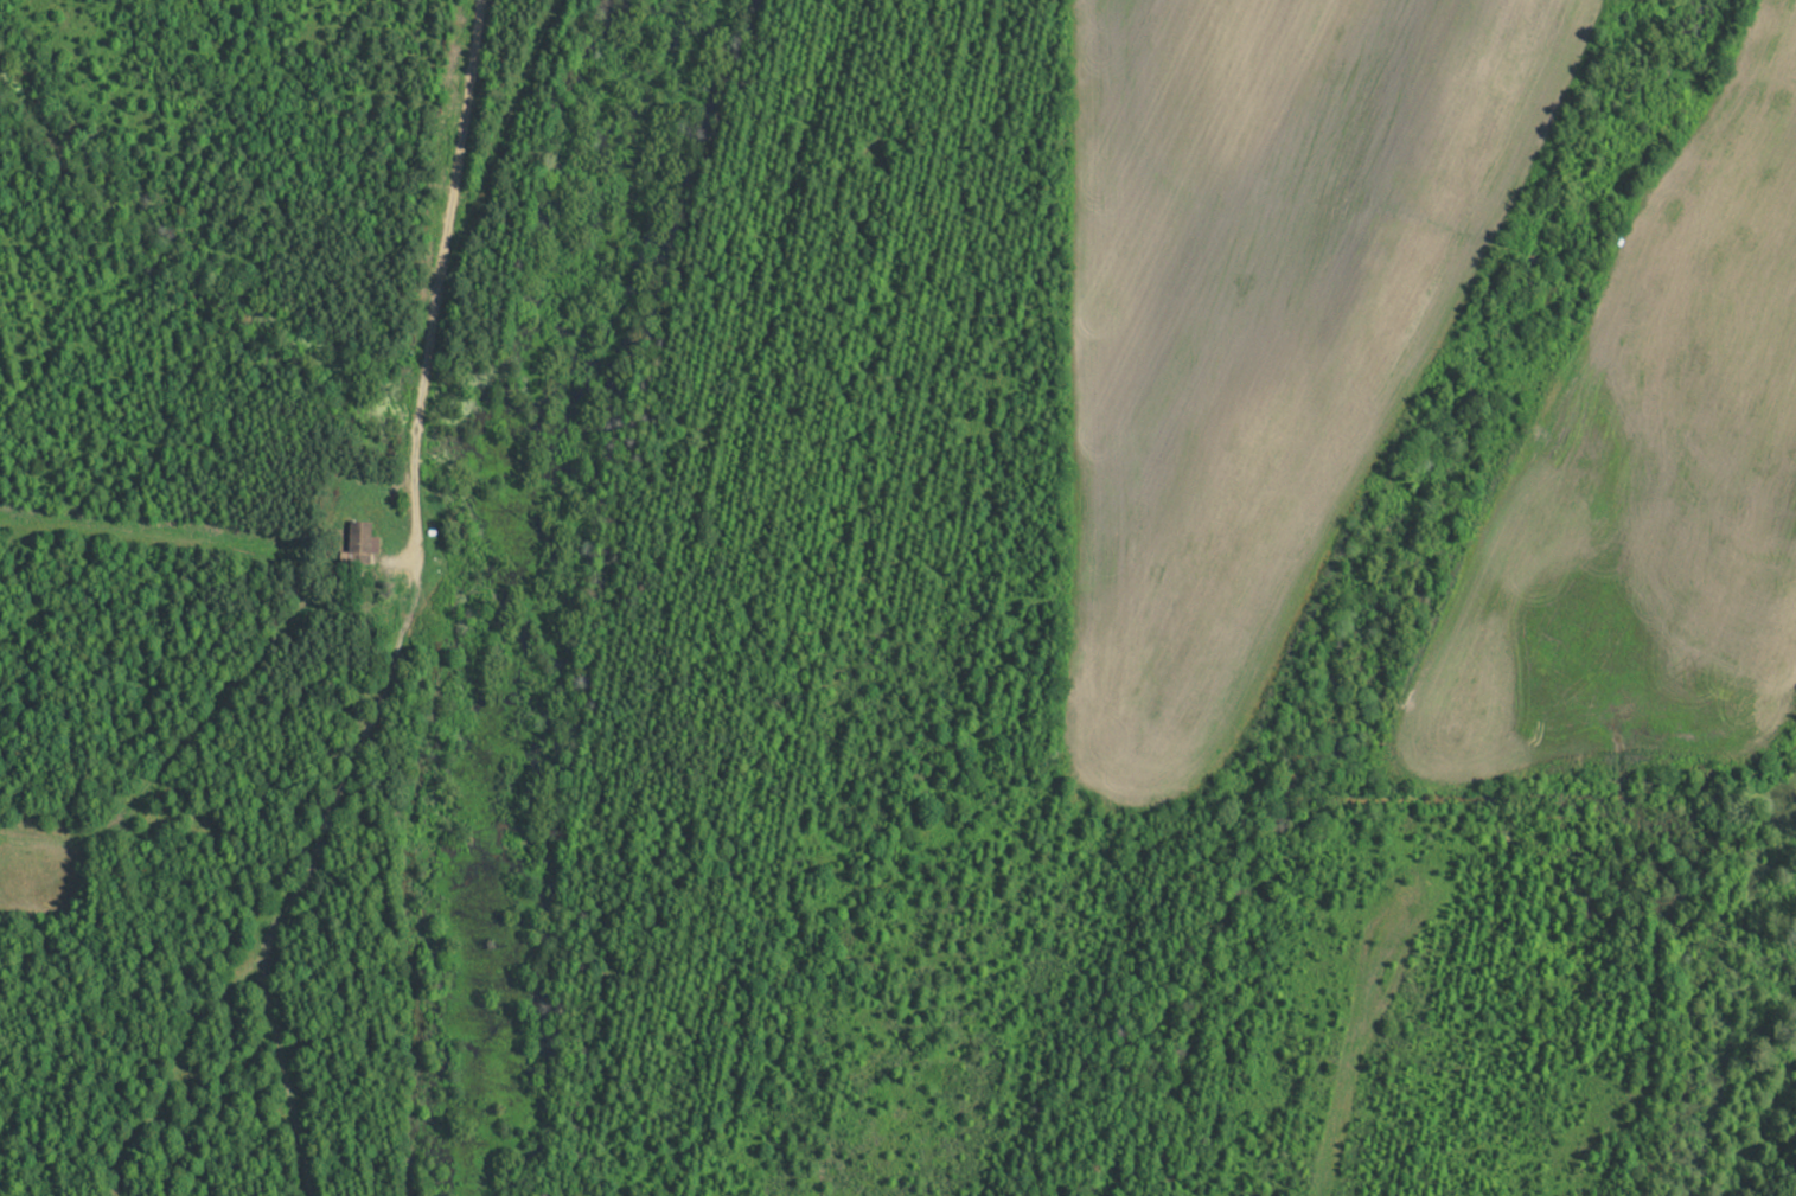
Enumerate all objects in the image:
road: (440, 264)
building: (358, 543)

